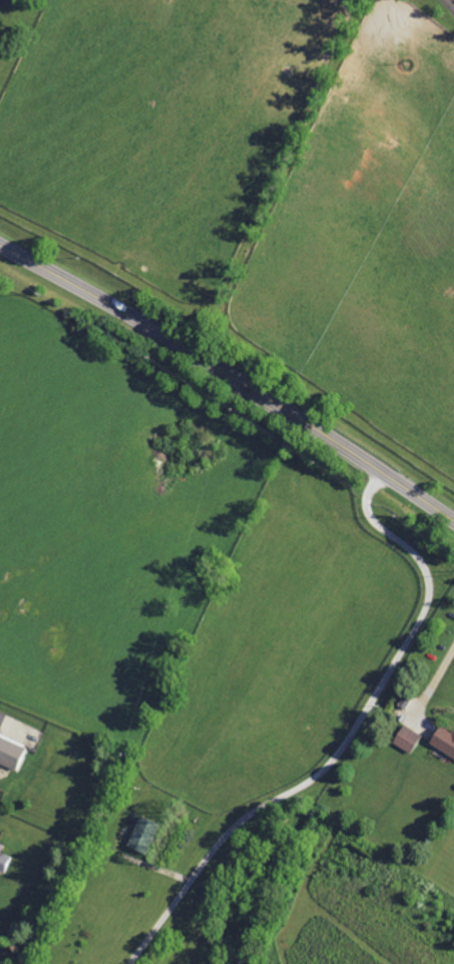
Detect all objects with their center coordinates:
road: (231, 375)
road: (9, 721)
road: (347, 737)
building: (406, 737)
building: (443, 740)
building: (11, 753)
building: (141, 834)
building: (1, 855)

